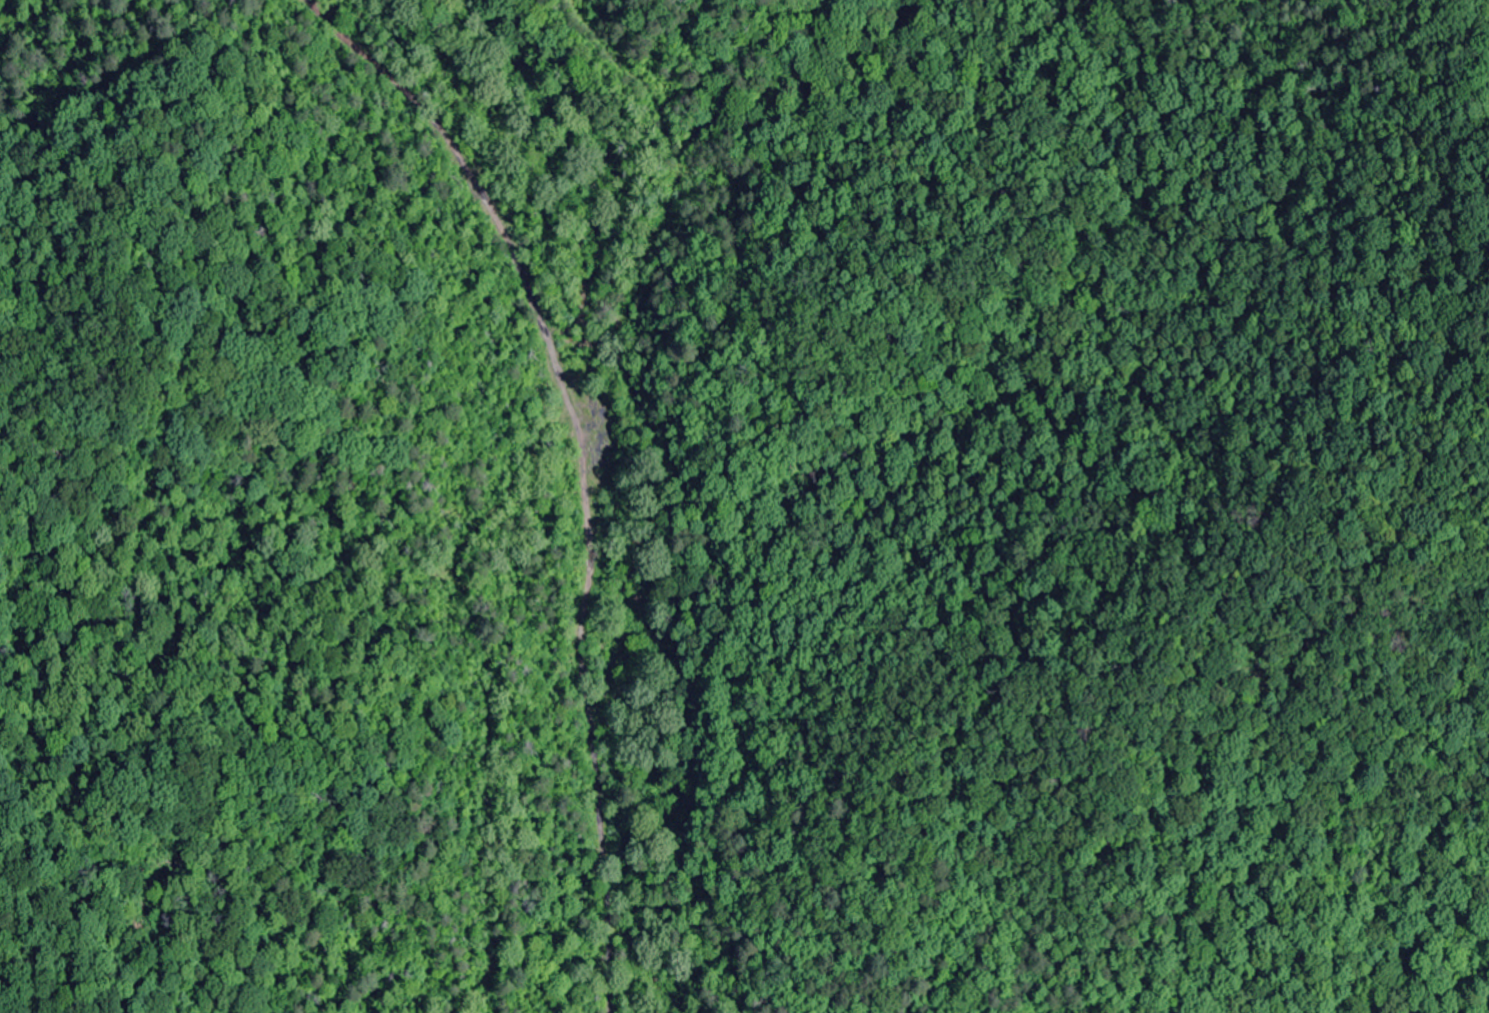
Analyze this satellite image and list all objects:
road: (612, 151)
road: (478, 485)
road: (1323, 770)

